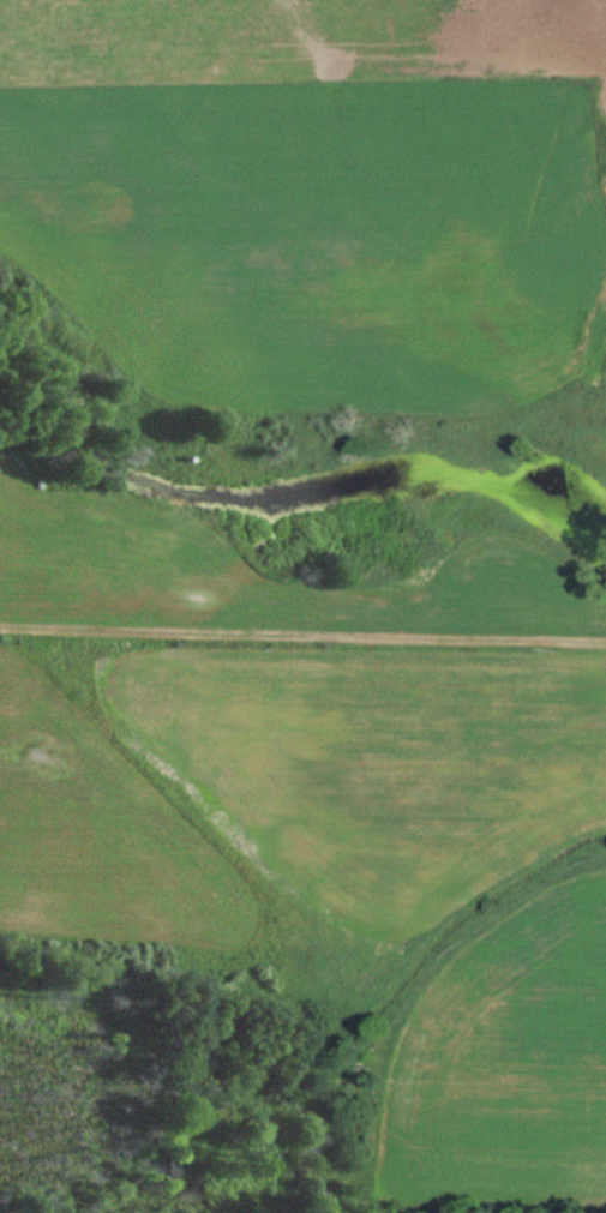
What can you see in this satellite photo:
road: (302, 647)

